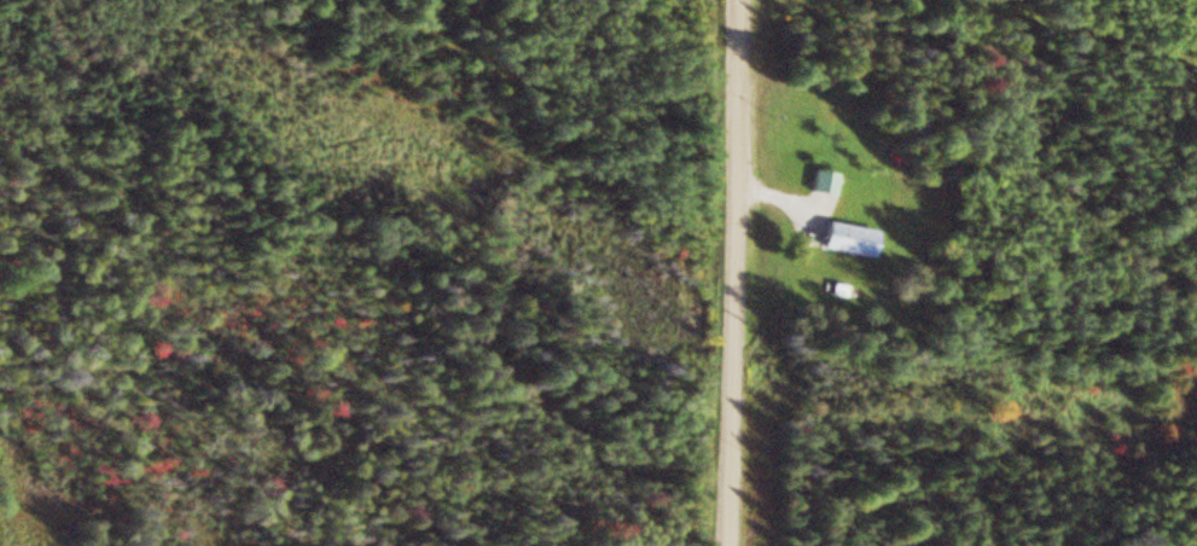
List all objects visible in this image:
building: (829, 185)
building: (854, 240)
road: (754, 273)

